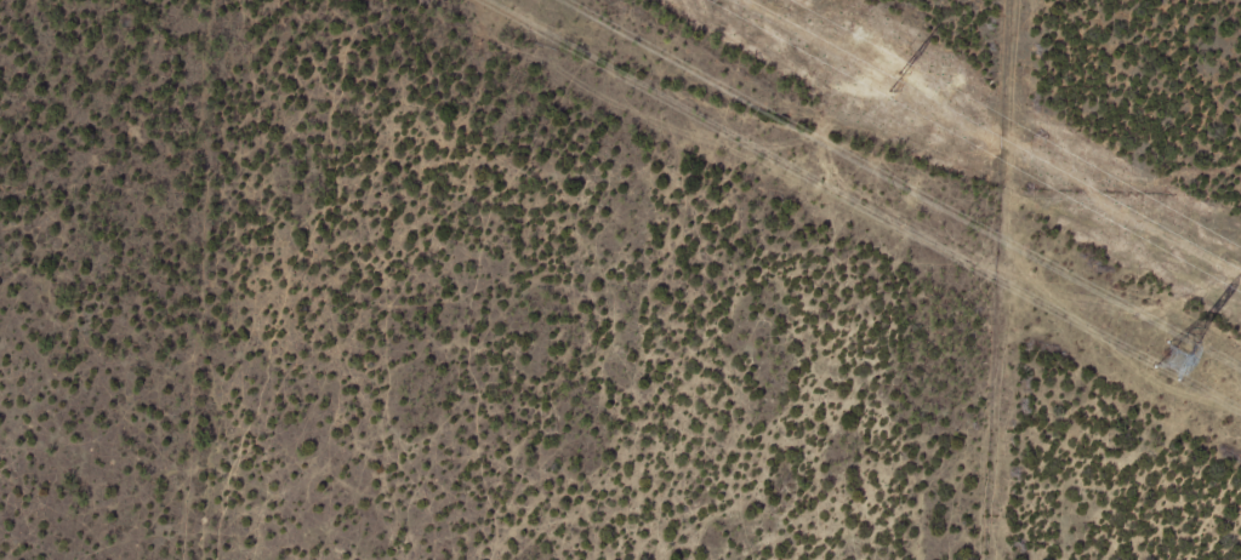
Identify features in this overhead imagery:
power tower: (1161, 361)

